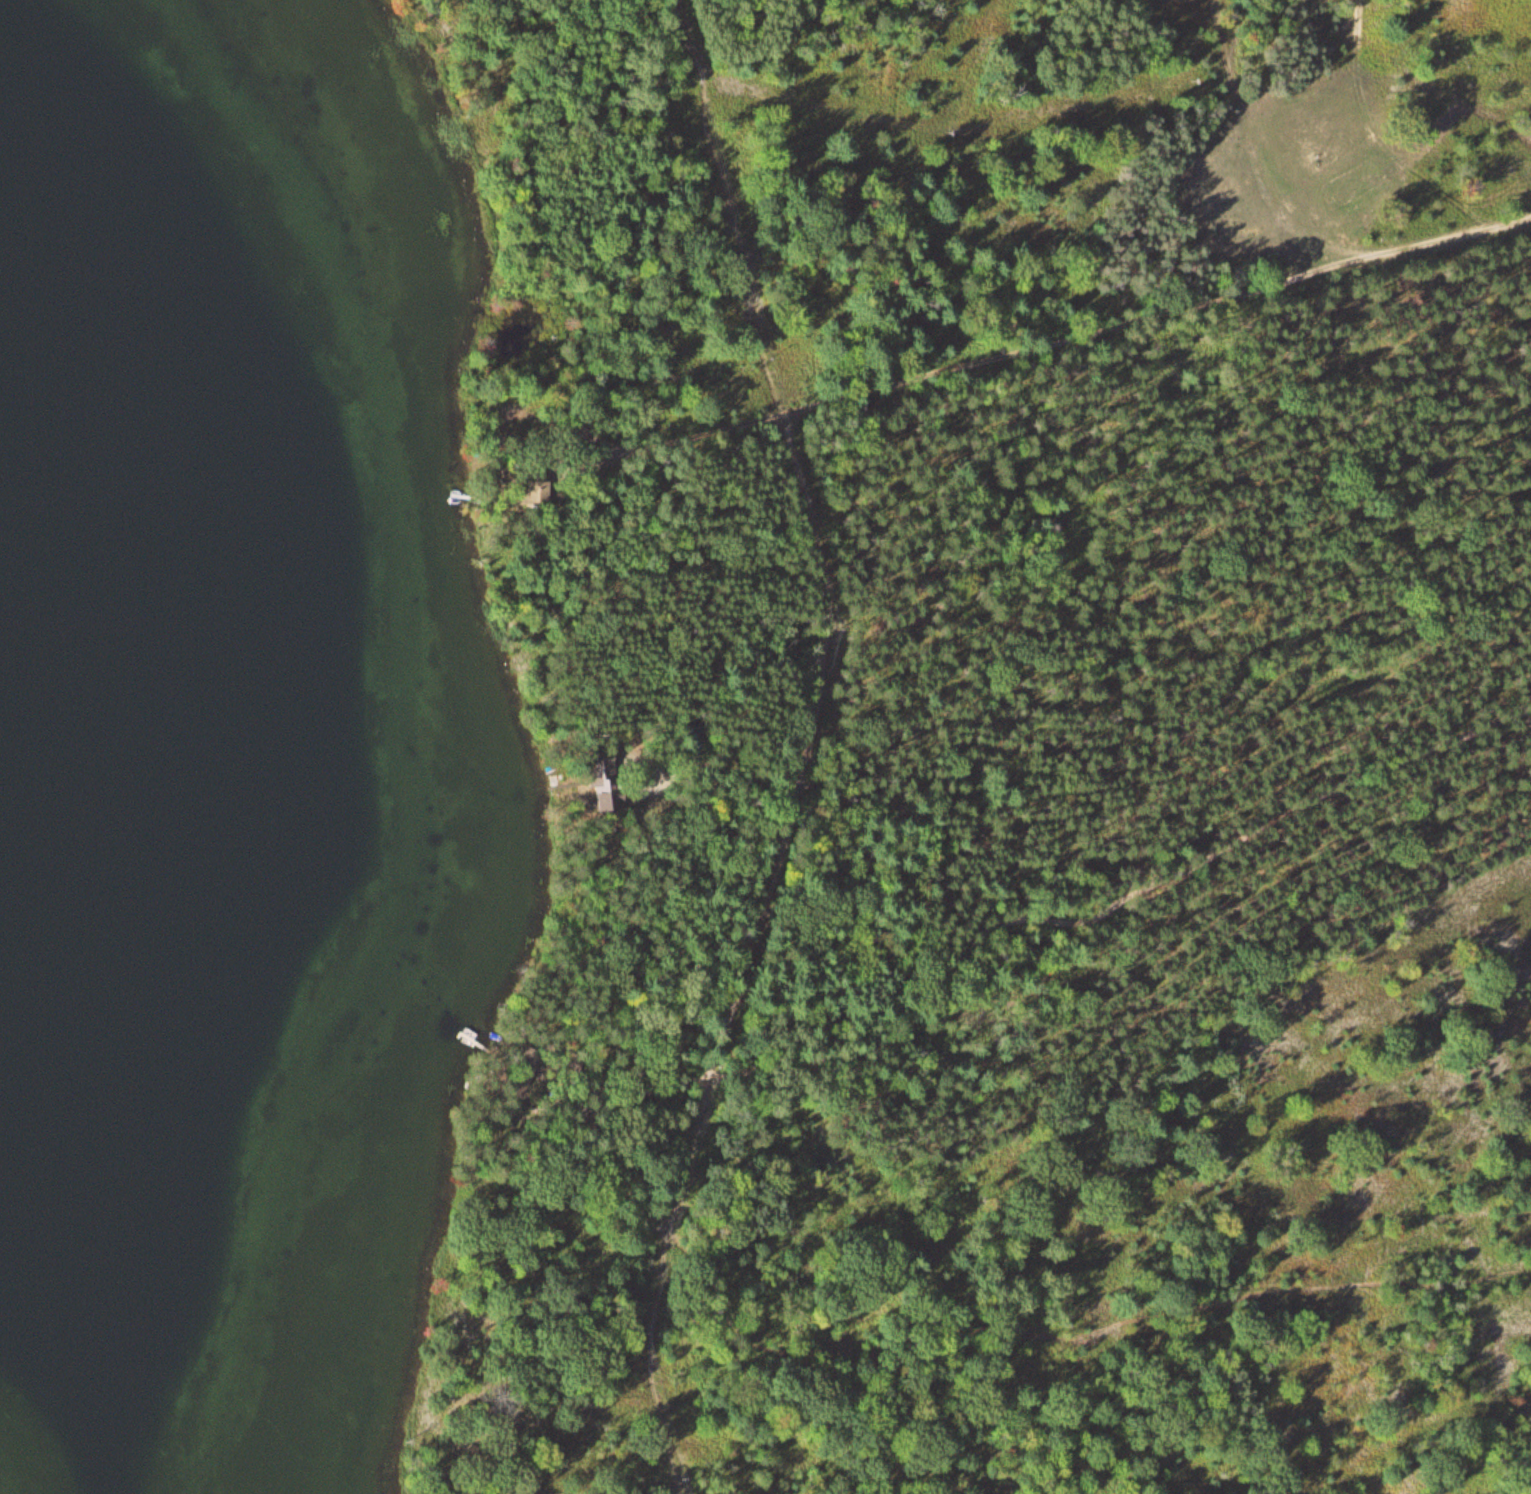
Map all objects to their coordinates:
road: (1432, 77)
road: (1058, 333)
building: (533, 492)
building: (602, 776)
building: (522, 1069)
road: (1005, 1330)

